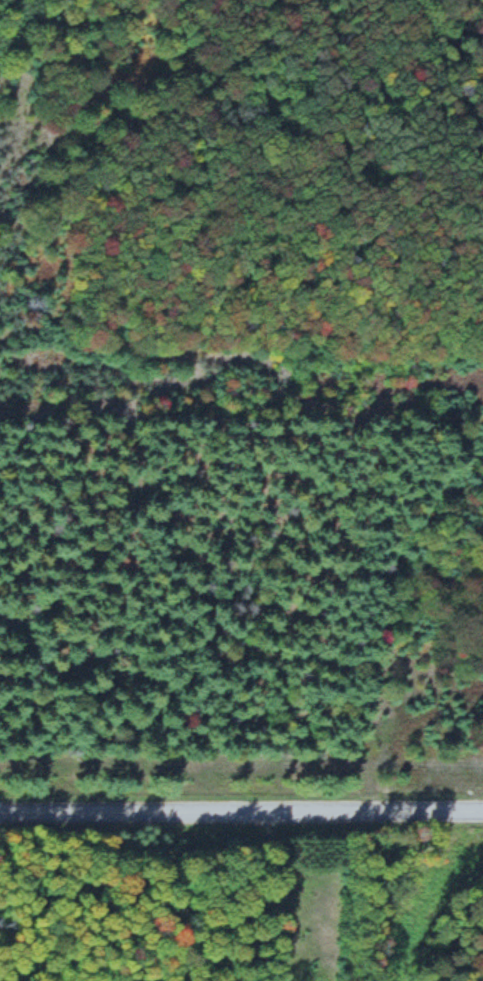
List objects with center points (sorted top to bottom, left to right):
road: (241, 813)

